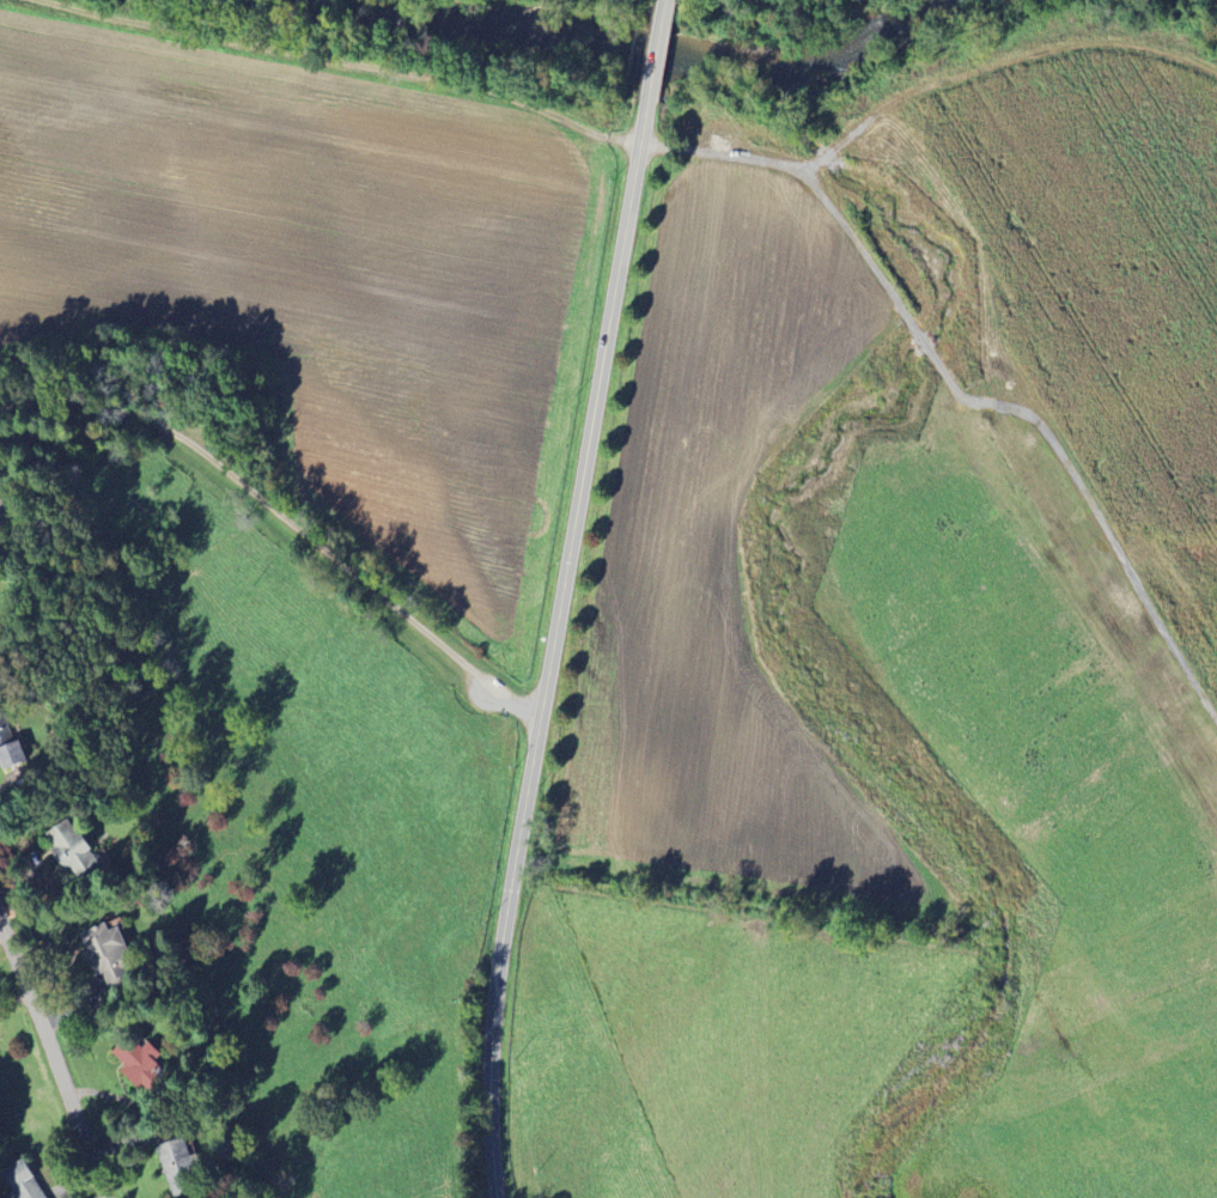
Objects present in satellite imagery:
road: (668, 0)
road: (582, 5)
road: (762, 12)
road: (658, 50)
river: (652, 51)
crop: (314, 267)
crop: (1091, 291)
road: (285, 519)
crop: (729, 577)
road: (552, 647)
building: (4, 730)
building: (11, 754)
crop: (1032, 807)
crop: (291, 833)
building: (71, 851)
building: (103, 948)
crop: (712, 1046)
road: (51, 1056)
building: (138, 1062)
building: (177, 1167)
building: (23, 1181)

